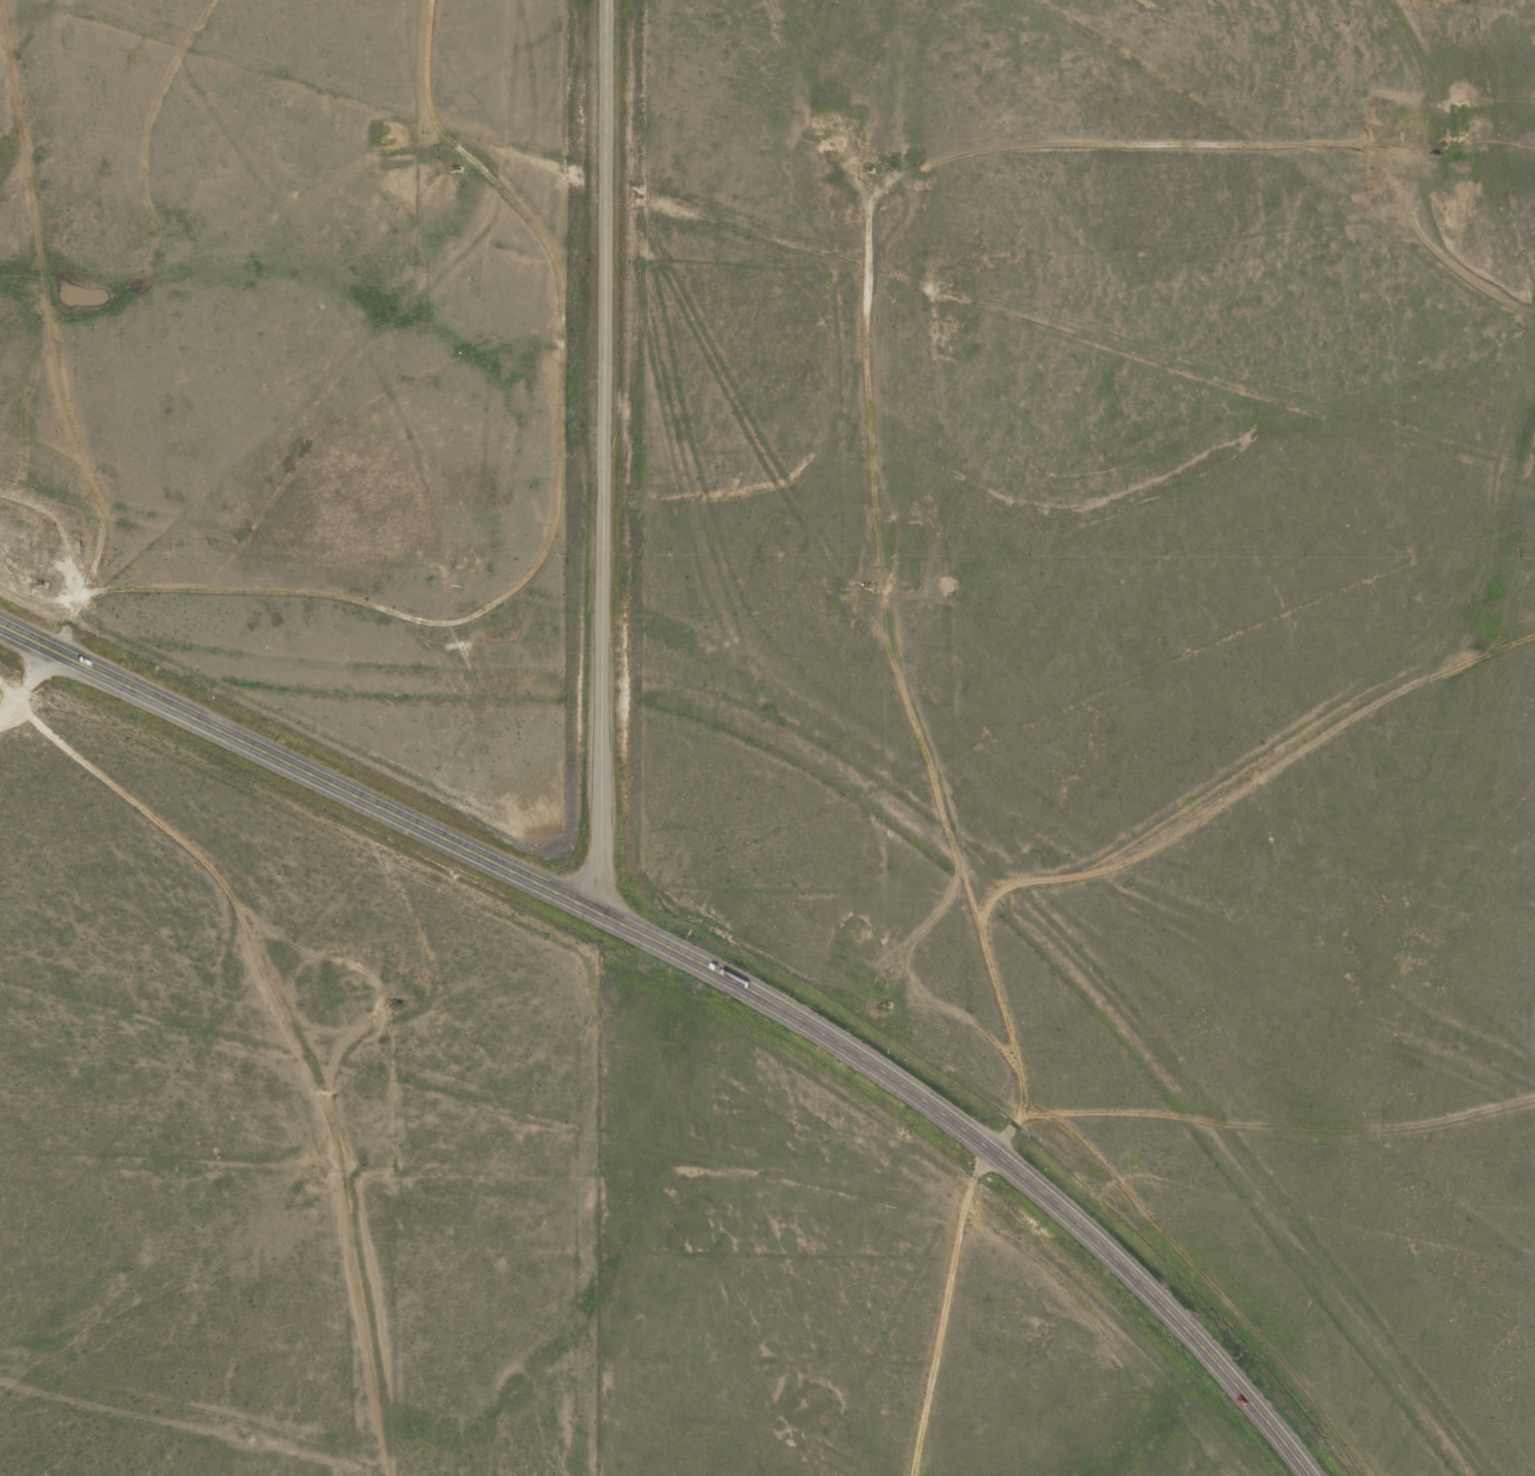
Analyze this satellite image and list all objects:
road: (104, 412)
road: (602, 454)
road: (714, 965)
road: (313, 1071)

